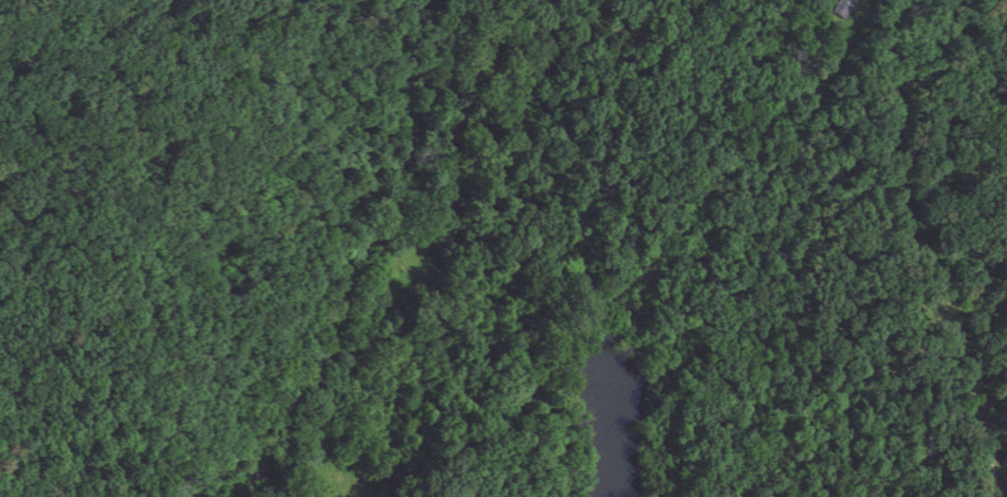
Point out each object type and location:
building: (843, 9)
road: (924, 248)

